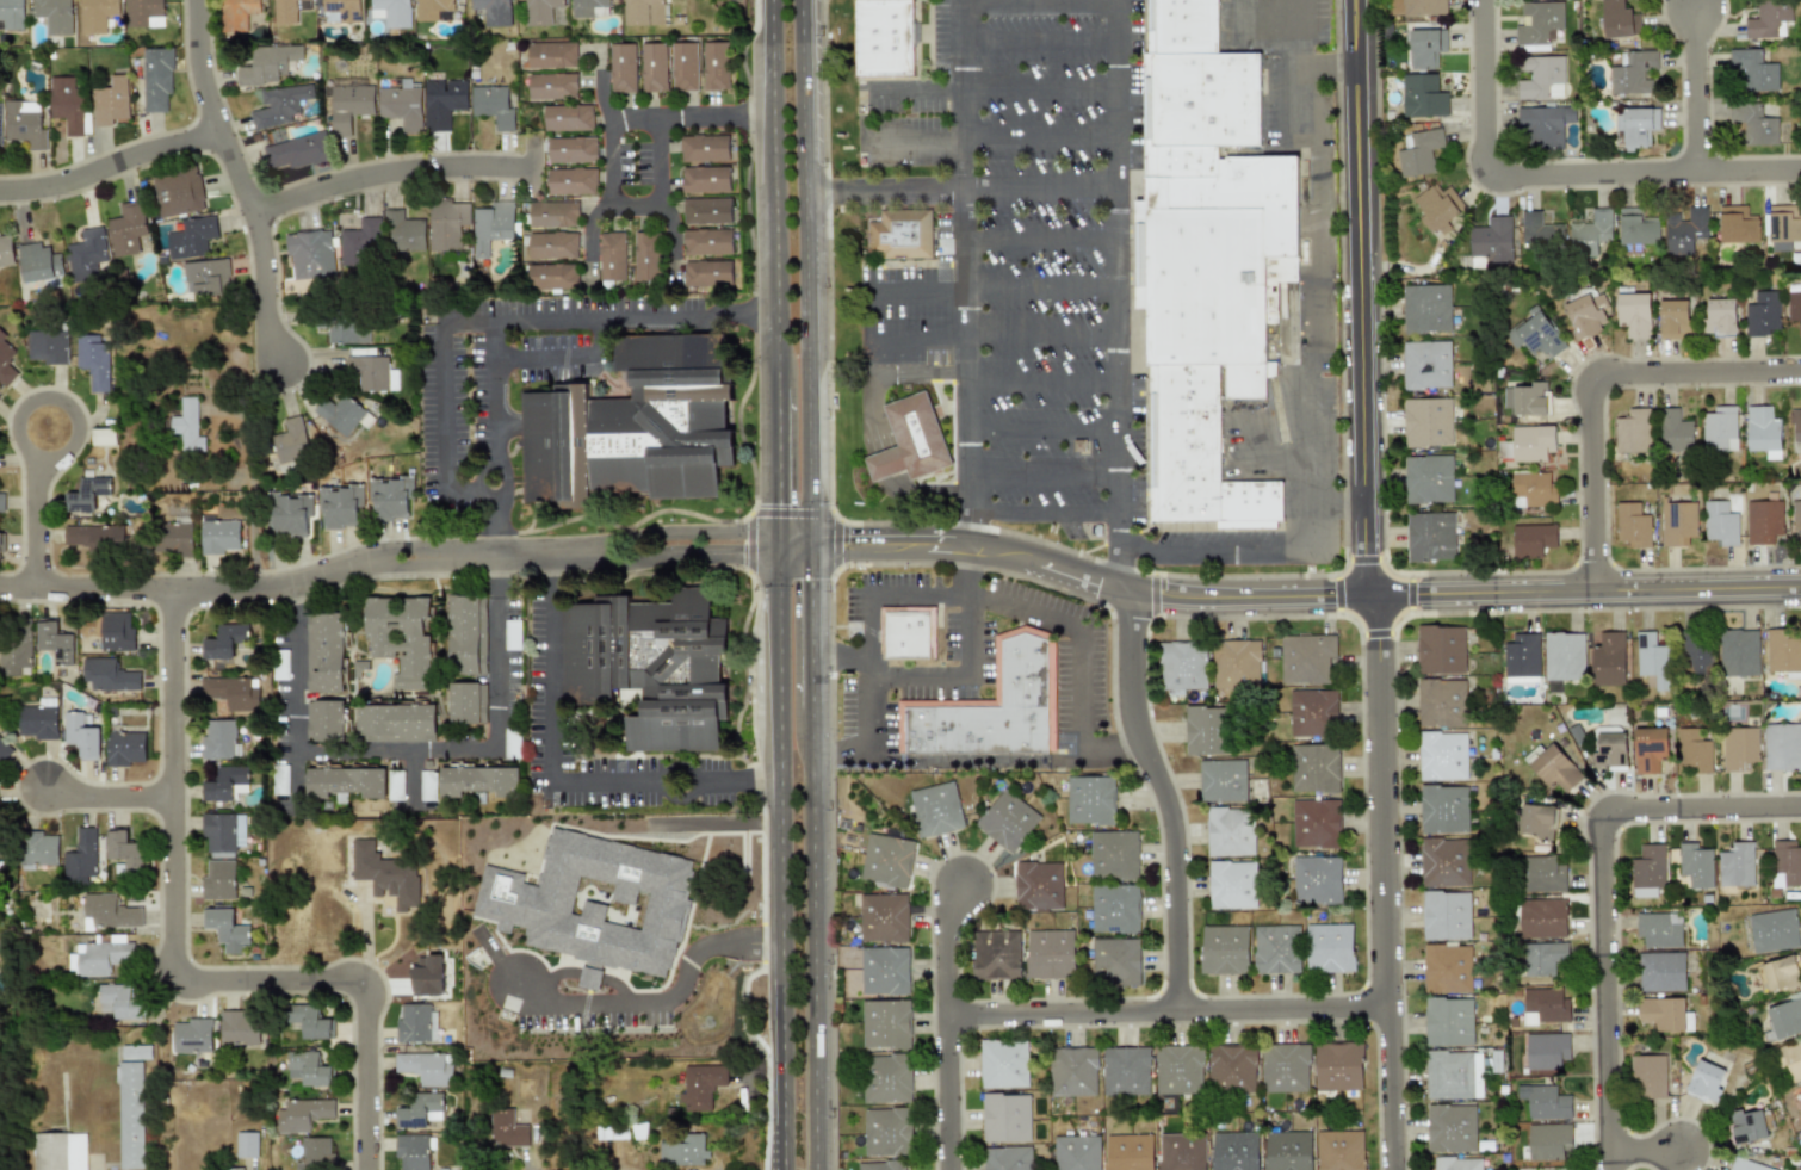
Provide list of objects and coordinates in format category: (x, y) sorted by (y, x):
road: (1013, 1)
road: (1060, 1)
road: (1038, 2)
building: (1416, 7)
building: (433, 8)
building: (590, 8)
building: (289, 10)
building: (341, 11)
building: (541, 11)
building: (394, 12)
building: (495, 12)
building: (646, 12)
building: (144, 13)
building: (12, 14)
building: (97, 14)
building: (237, 14)
building: (52, 16)
building: (1615, 19)
building: (1768, 19)
building: (1540, 21)
road: (1262, 32)
building: (883, 37)
road: (1039, 39)
building: (1424, 47)
building: (553, 55)
building: (268, 64)
building: (717, 66)
building: (655, 67)
building: (686, 67)
building: (624, 68)
road: (1294, 68)
building: (1752, 70)
building: (1632, 72)
building: (1541, 78)
building: (157, 79)
road: (1695, 83)
building: (553, 86)
road: (1039, 86)
road: (921, 88)
road: (803, 94)
building: (1422, 95)
building: (110, 101)
building: (67, 104)
building: (349, 104)
building: (442, 104)
building: (280, 105)
building: (401, 106)
building: (493, 106)
road: (669, 117)
building: (569, 118)
building: (25, 124)
building: (1635, 124)
building: (1756, 124)
building: (0, 126)
road: (1038, 136)
building: (705, 148)
road: (915, 148)
building: (573, 150)
building: (297, 151)
building: (1418, 151)
road: (612, 162)
road: (658, 163)
road: (107, 165)
road: (1556, 169)
road: (389, 173)
building: (706, 179)
building: (573, 181)
road: (239, 185)
road: (1039, 185)
road: (884, 187)
building: (178, 192)
road: (774, 192)
building: (1437, 208)
road: (633, 209)
building: (707, 211)
building: (555, 213)
building: (447, 224)
building: (1737, 224)
building: (493, 227)
building: (1636, 227)
building: (1783, 227)
building: (128, 229)
building: (1539, 230)
building: (1684, 230)
building: (404, 233)
building: (1589, 233)
building: (899, 234)
building: (188, 239)
road: (1039, 240)
building: (359, 241)
building: (1491, 241)
building: (707, 242)
building: (550, 246)
building: (6, 250)
building: (87, 255)
building: (310, 255)
building: (612, 256)
building: (646, 256)
building: (1207, 261)
building: (39, 262)
building: (707, 273)
building: (205, 276)
road: (964, 276)
building: (552, 277)
road: (1039, 289)
road: (916, 291)
road: (1114, 295)
road: (1370, 297)
building: (1425, 308)
building: (1794, 308)
road: (1313, 309)
building: (1633, 314)
building: (1762, 314)
building: (1583, 315)
building: (1720, 316)
road: (869, 317)
building: (1675, 318)
building: (346, 328)
building: (1535, 333)
road: (1039, 334)
road: (917, 341)
building: (49, 347)
road: (565, 358)
building: (6, 361)
building: (95, 361)
building: (1425, 364)
road: (806, 367)
building: (375, 373)
road: (1595, 379)
road: (1039, 382)
building: (0, 392)
building: (1527, 398)
road: (496, 411)
building: (342, 414)
building: (1426, 421)
building: (190, 426)
road: (877, 426)
building: (635, 427)
building: (1719, 428)
road: (1039, 431)
building: (1673, 431)
building: (1763, 431)
building: (1632, 432)
building: (910, 440)
building: (1531, 442)
building: (292, 444)
road: (62, 451)
road: (779, 465)
road: (1040, 478)
building: (1428, 478)
road: (253, 484)
building: (1534, 489)
building: (88, 495)
building: (392, 496)
building: (1, 502)
building: (340, 508)
building: (1796, 512)
building: (293, 514)
road: (1040, 514)
building: (1763, 520)
road: (36, 522)
building: (1677, 522)
building: (1720, 522)
building: (1632, 525)
road: (673, 531)
building: (1430, 536)
building: (219, 537)
road: (497, 537)
building: (98, 539)
building: (1531, 539)
building: (175, 540)
building: (0, 545)
road: (794, 546)
road: (1226, 549)
road: (671, 555)
road: (367, 561)
road: (780, 577)
road: (86, 592)
road: (1301, 596)
road: (965, 612)
road: (1060, 623)
road: (810, 629)
building: (906, 632)
building: (117, 633)
building: (466, 633)
building: (401, 638)
building: (54, 640)
building: (223, 642)
building: (1440, 649)
building: (1782, 651)
building: (326, 652)
building: (1738, 652)
building: (14, 654)
building: (1562, 656)
building: (1522, 657)
building: (1306, 658)
building: (1608, 658)
building: (1653, 660)
building: (1236, 663)
building: (651, 666)
building: (1182, 666)
road: (780, 669)
road: (886, 674)
building: (107, 675)
building: (229, 694)
building: (468, 702)
road: (866, 702)
building: (1441, 702)
building: (991, 706)
building: (1312, 712)
building: (39, 720)
building: (326, 720)
building: (397, 723)
building: (1207, 730)
building: (82, 736)
building: (221, 739)
building: (1610, 747)
building: (1739, 747)
building: (1782, 747)
building: (124, 749)
building: (1648, 749)
building: (1694, 749)
building: (4, 751)
building: (1442, 756)
road: (979, 760)
building: (1553, 767)
building: (1314, 768)
road: (552, 780)
building: (1221, 780)
building: (348, 781)
building: (479, 781)
building: (225, 784)
building: (429, 785)
road: (104, 798)
building: (1089, 799)
road: (1164, 801)
building: (935, 809)
building: (1443, 809)
building: (1537, 819)
building: (1007, 821)
building: (1316, 823)
building: (1230, 831)
building: (224, 835)
building: (41, 849)
building: (124, 850)
building: (1114, 854)
building: (886, 860)
building: (1444, 861)
building: (1696, 865)
building: (1737, 865)
building: (1650, 866)
building: (386, 874)
building: (1542, 874)
building: (1316, 878)
building: (219, 880)
road: (1388, 881)
building: (1231, 884)
building: (1038, 886)
road: (1604, 893)
building: (596, 904)
building: (1114, 908)
building: (110, 912)
building: (1446, 915)
building: (883, 917)
building: (1542, 918)
building: (227, 929)
building: (1659, 929)
building: (1774, 930)
road: (813, 941)
building: (1329, 947)
road: (781, 949)
building: (1224, 949)
building: (1276, 949)
building: (1050, 953)
building: (996, 954)
building: (101, 957)
building: (1543, 958)
building: (1114, 960)
building: (1447, 968)
road: (178, 970)
building: (884, 971)
building: (1661, 971)
building: (1778, 974)
building: (427, 976)
building: (120, 1002)
building: (1545, 1005)
road: (661, 1009)
road: (1169, 1011)
building: (1661, 1013)
building: (1785, 1017)
building: (309, 1021)
building: (1448, 1021)
building: (415, 1023)
building: (885, 1023)
road: (947, 1026)
building: (240, 1028)
building: (193, 1035)
building: (1546, 1050)
building: (1003, 1063)
building: (1339, 1066)
building: (426, 1067)
building: (1285, 1067)
building: (1178, 1069)
building: (1232, 1069)
building: (307, 1070)
building: (1126, 1070)
building: (1072, 1071)
building: (1452, 1075)
building: (1648, 1076)
building: (886, 1078)
building: (1704, 1081)
building: (701, 1087)
building: (1543, 1101)
building: (420, 1110)
building: (134, 1115)
building: (303, 1115)
building: (1005, 1118)
building: (1746, 1125)
building: (1450, 1128)
building: (507, 1129)
building: (887, 1132)
building: (1547, 1140)
building: (247, 1145)
road: (1646, 1146)
building: (1287, 1150)
building: (1339, 1150)
building: (63, 1151)
building: (411, 1151)
building: (685, 1151)
building: (1181, 1151)
building: (1234, 1151)
building: (1077, 1152)
building: (1128, 1152)
building: (316, 1154)
building: (1007, 1158)
building: (1456, 1163)
building: (1745, 1164)
building: (880, 1165)
road: (530, 1166)

